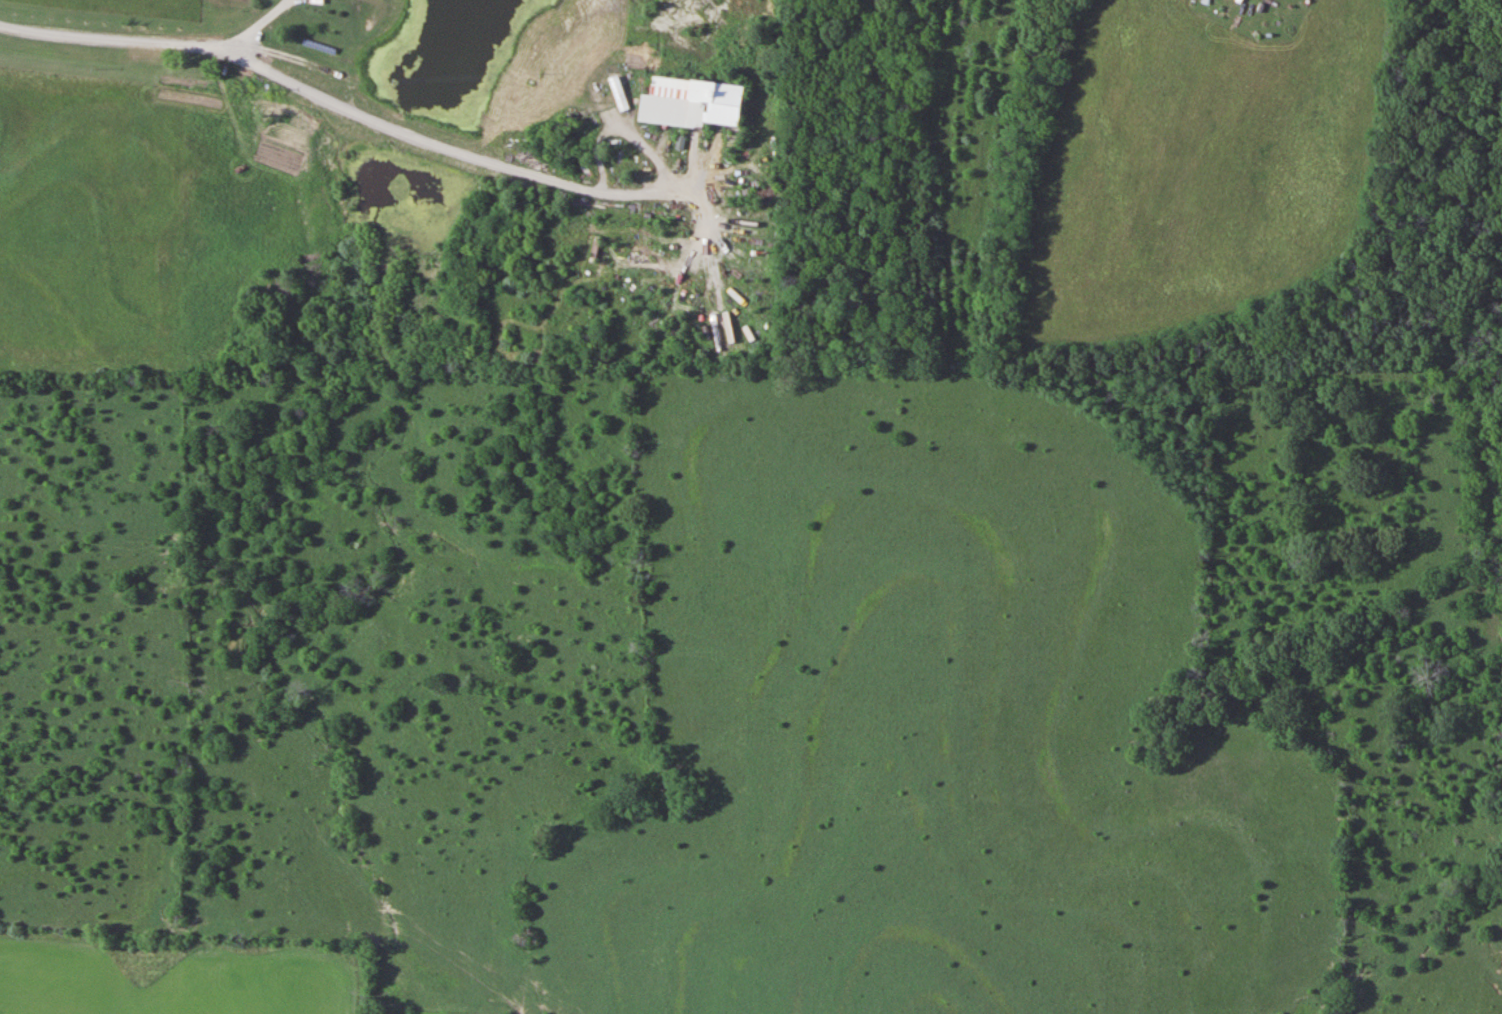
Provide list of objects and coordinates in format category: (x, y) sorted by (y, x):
road: (144, 44)
building: (692, 104)
road: (435, 144)

